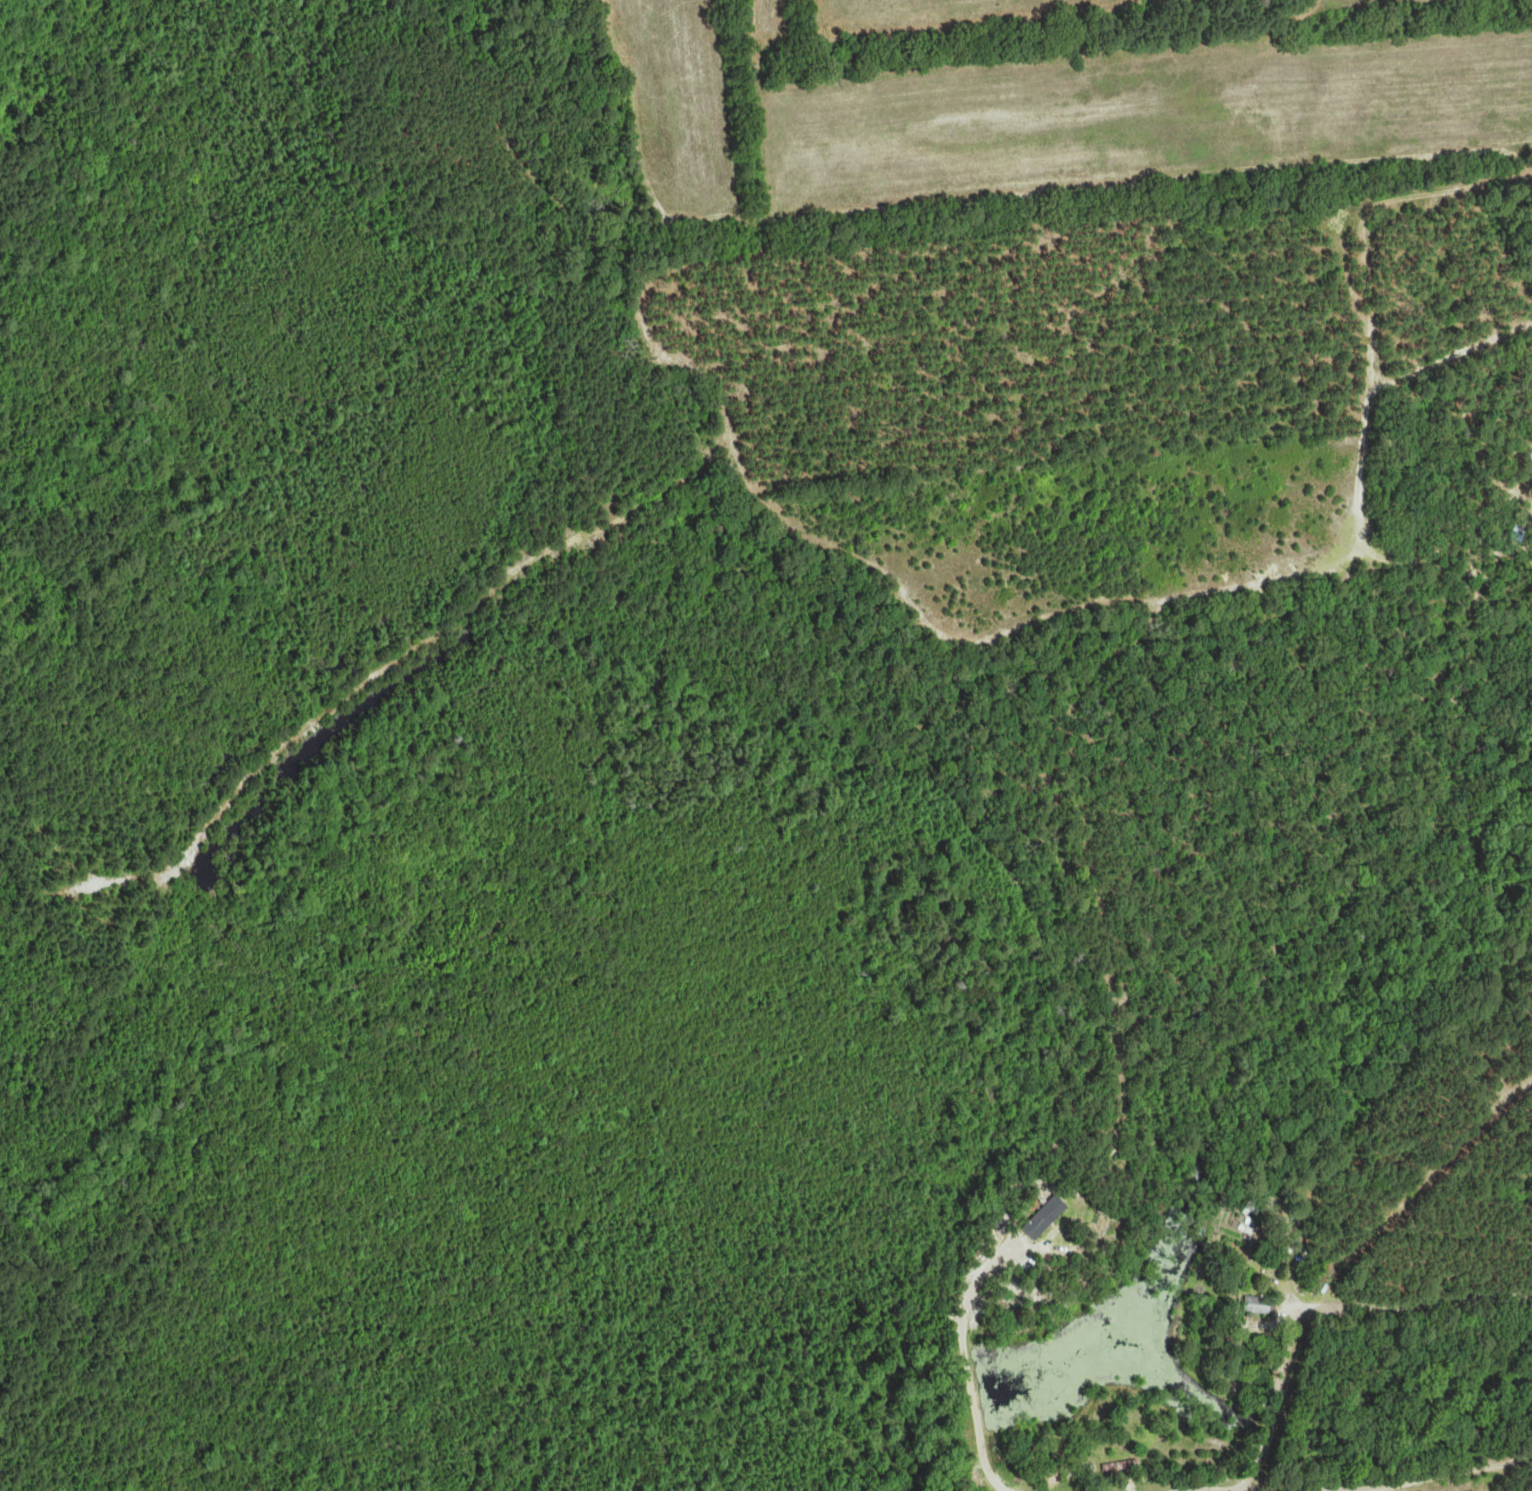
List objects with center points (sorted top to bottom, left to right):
road: (1317, 1299)
building: (1260, 1305)
building: (1121, 1468)
road: (1446, 1477)

